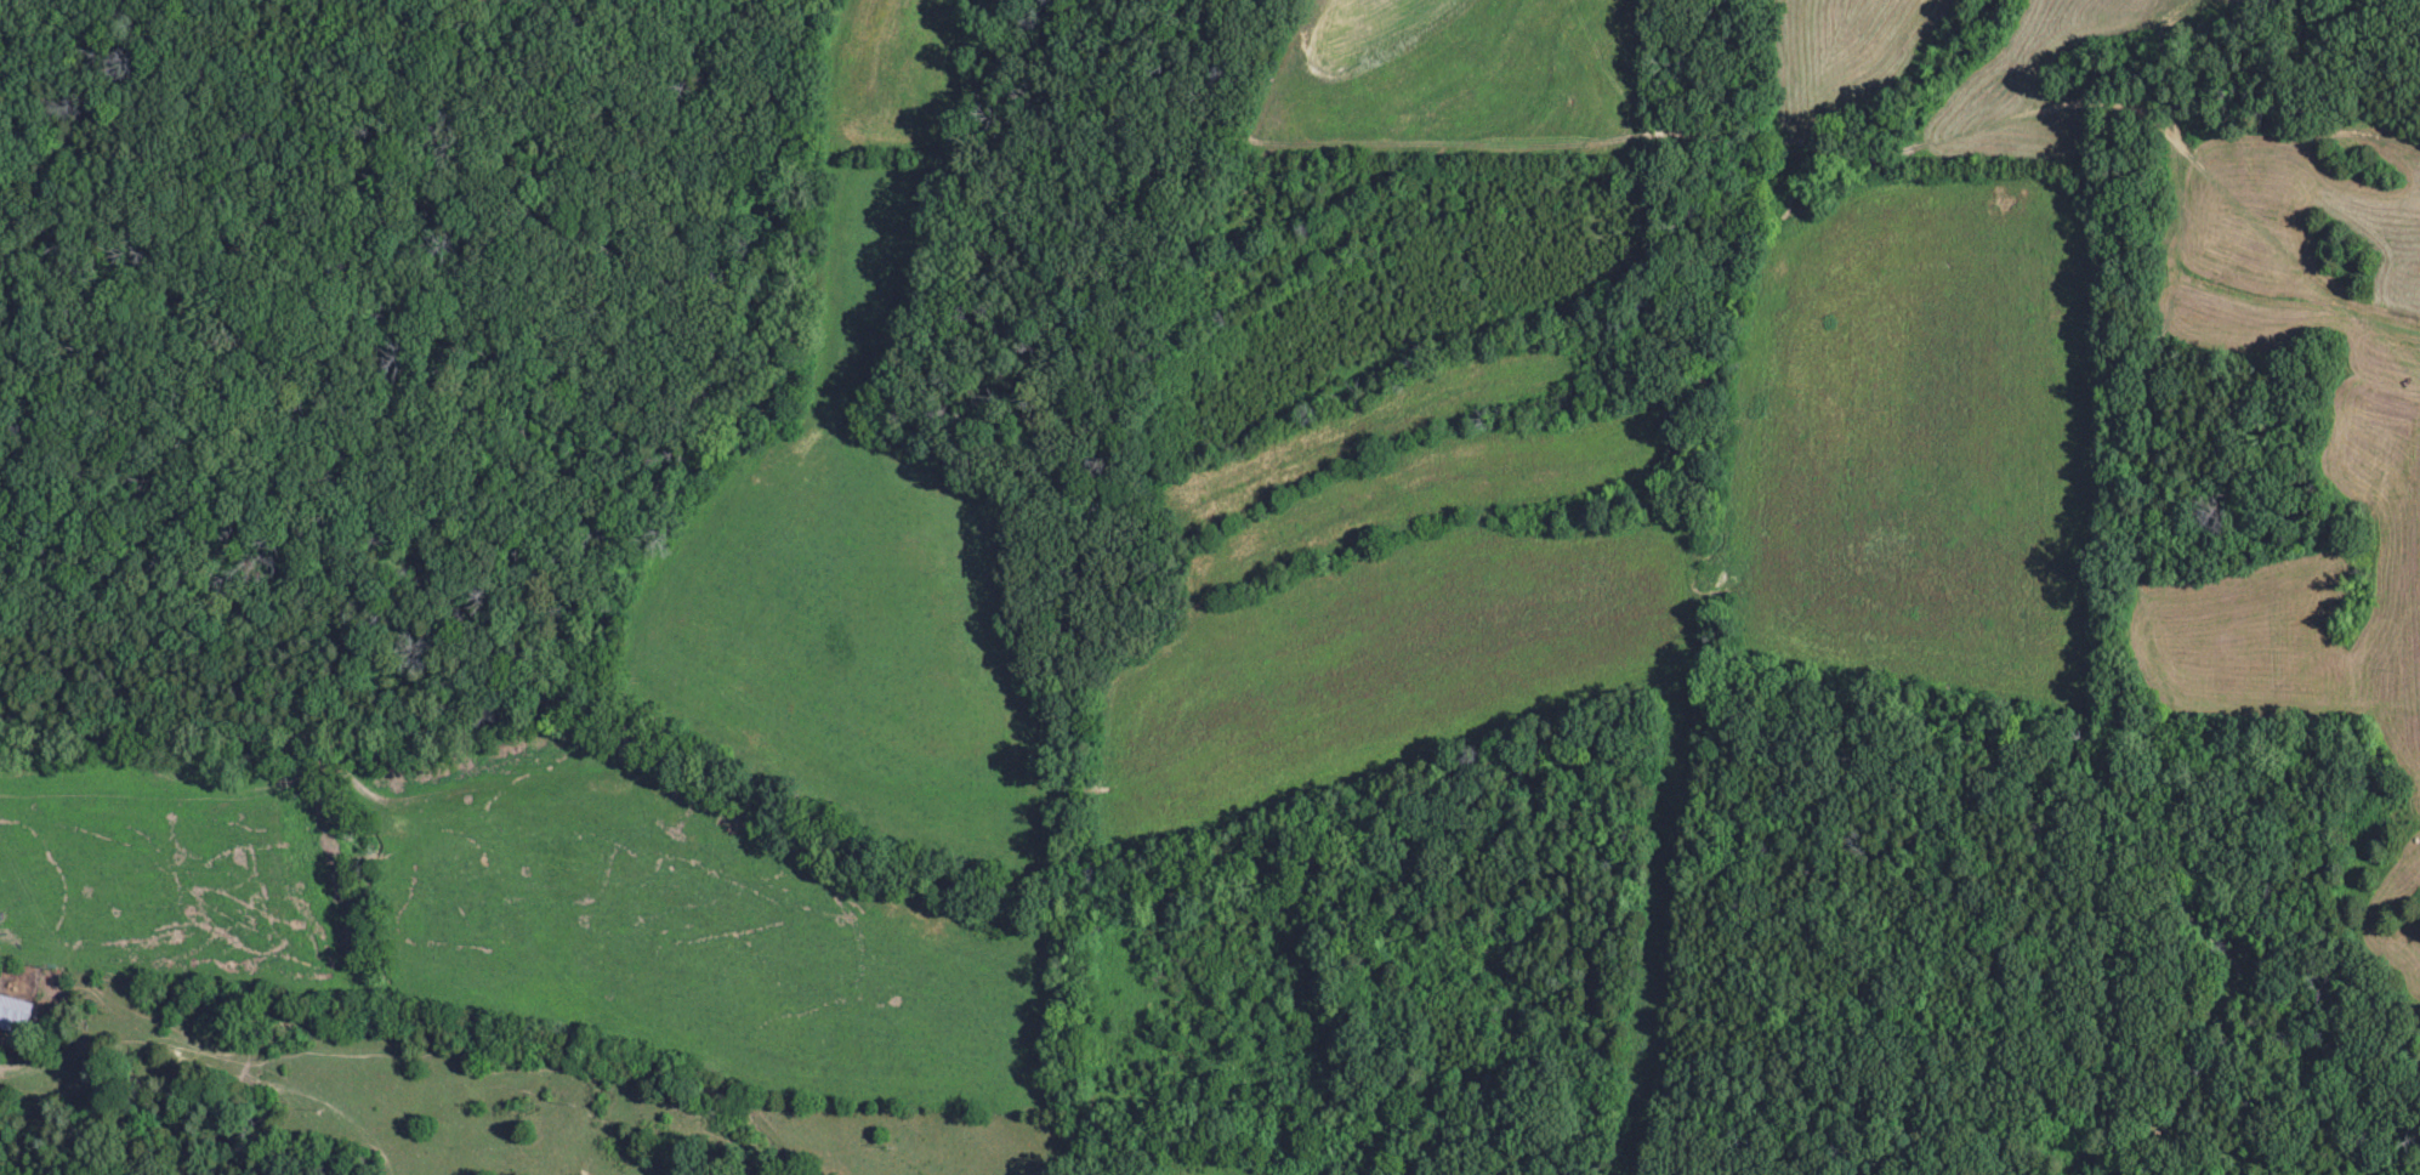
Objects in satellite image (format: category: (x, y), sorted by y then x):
building: (15, 1017)

